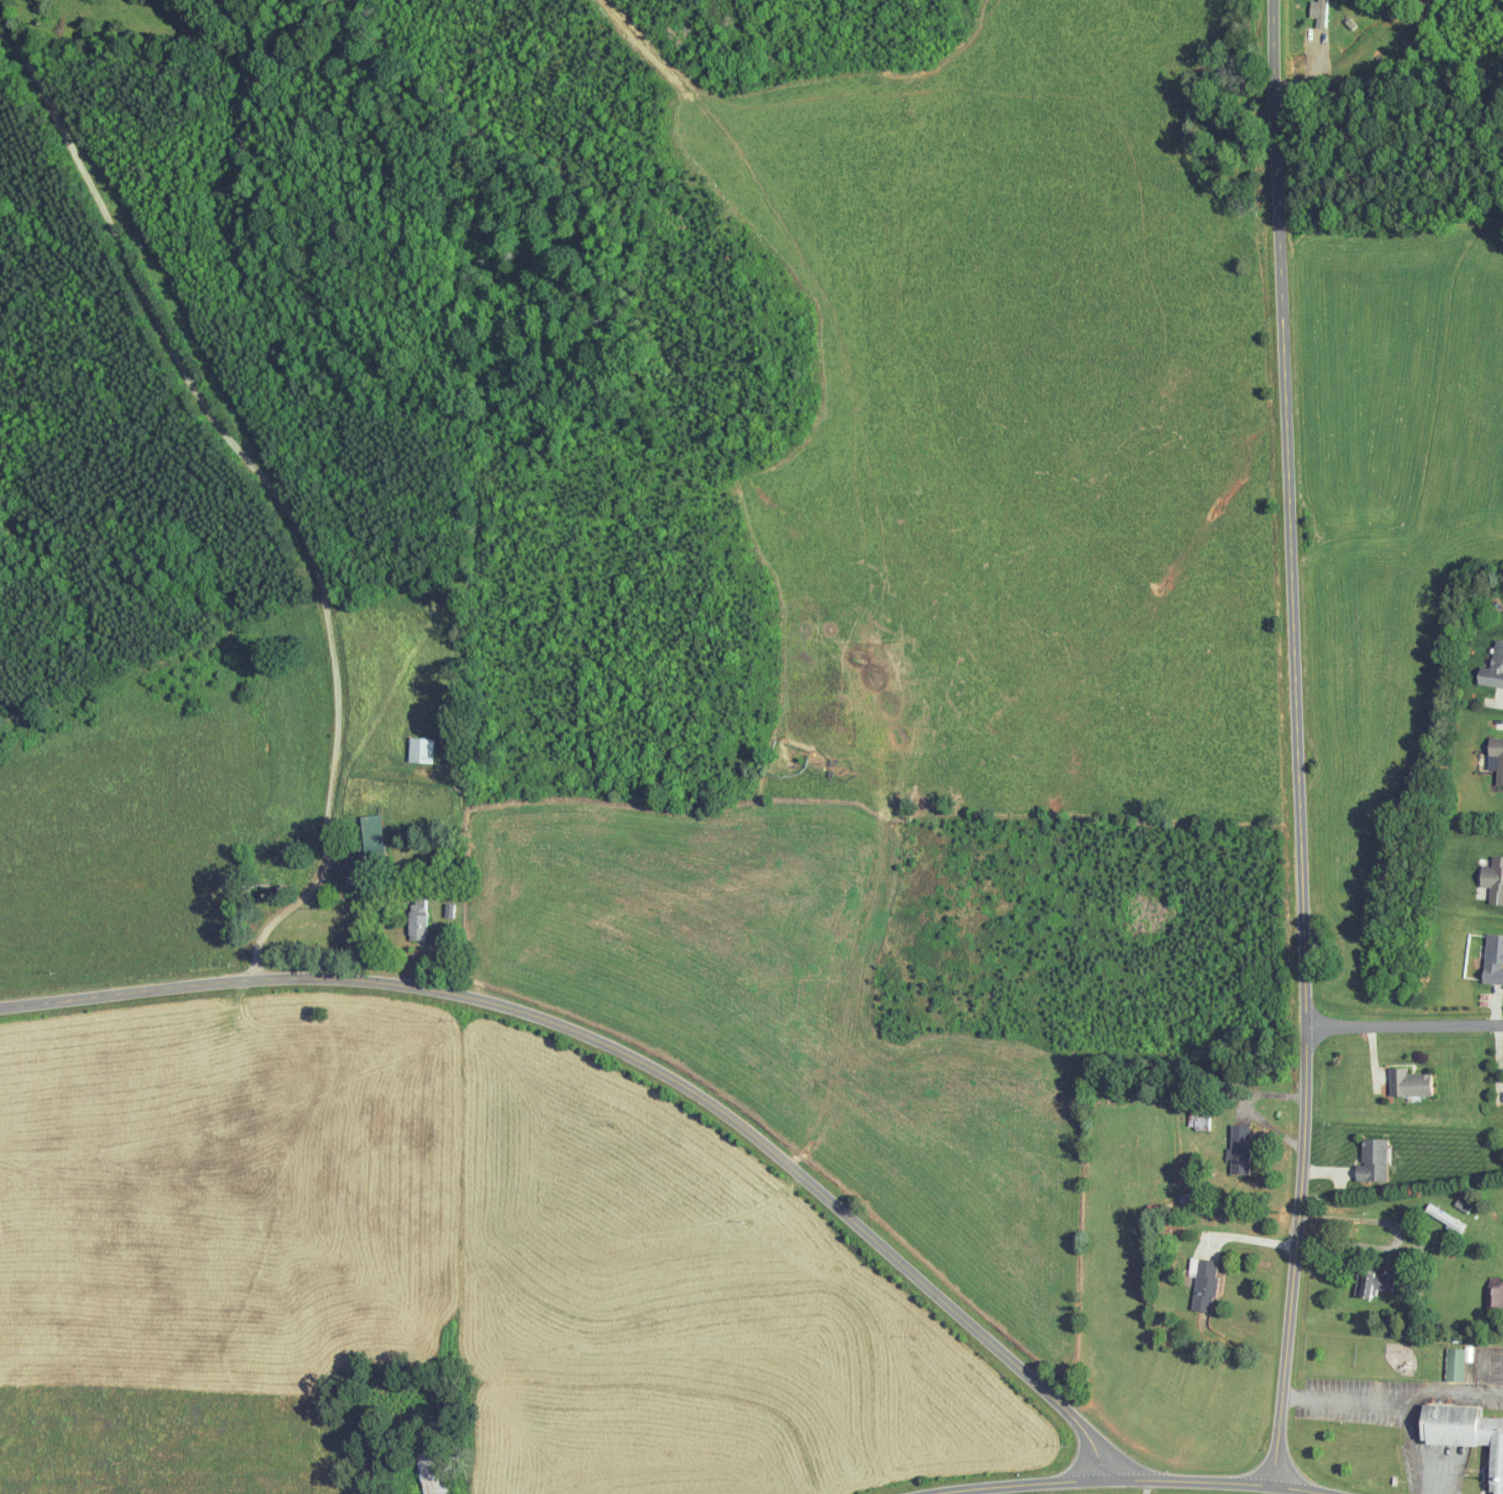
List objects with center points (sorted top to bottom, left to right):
building: (1317, 12)
road: (1390, 83)
road: (267, 480)
building: (1491, 668)
road: (1495, 703)
road: (1299, 741)
building: (1495, 756)
building: (376, 832)
building: (1491, 881)
building: (420, 919)
building: (1491, 959)
road: (1399, 1030)
road: (639, 1069)
building: (1407, 1083)
building: (1244, 1147)
building: (1373, 1160)
building: (1442, 1216)
building: (1371, 1282)
building: (1206, 1283)
building: (1494, 1293)
building: (1454, 1361)
road: (1392, 1402)
building: (1463, 1434)
building: (435, 1472)
road: (1136, 1482)

